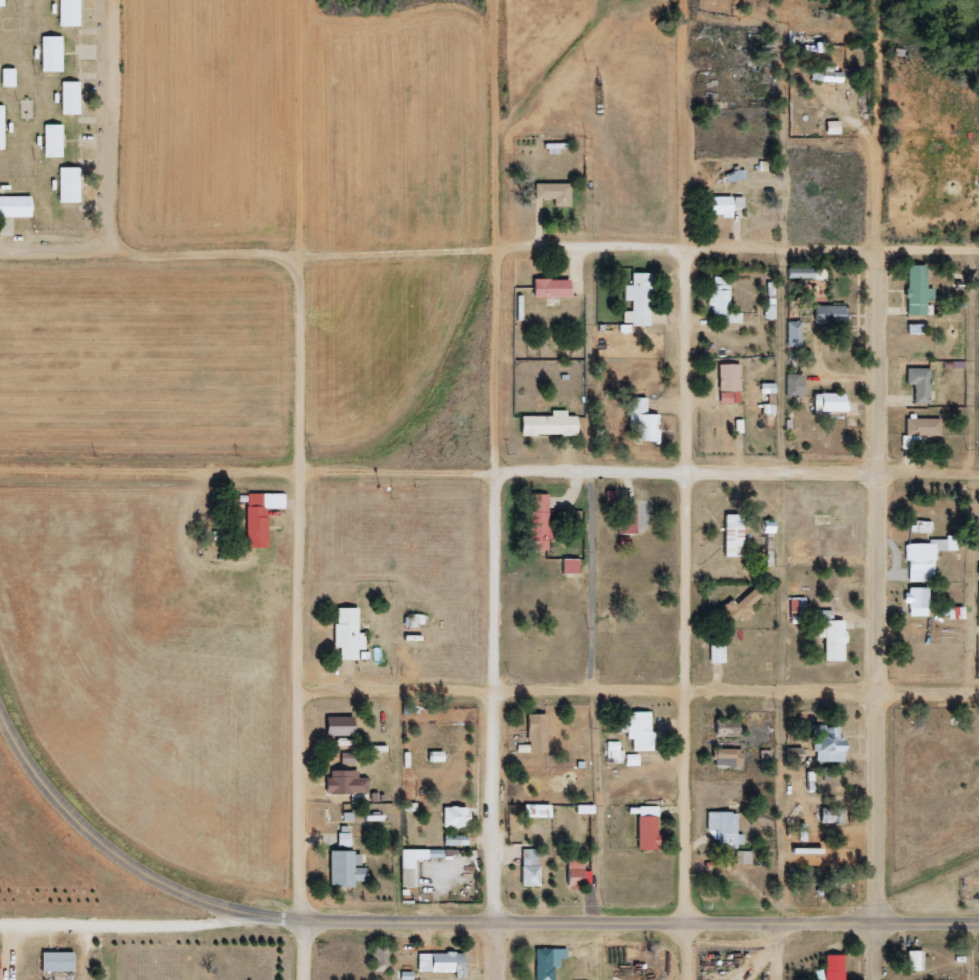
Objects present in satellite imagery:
building: (1, 3)
building: (68, 13)
building: (51, 54)
building: (826, 76)
building: (7, 78)
building: (69, 98)
road: (111, 126)
building: (1, 128)
building: (832, 128)
building: (52, 141)
building: (68, 185)
building: (554, 193)
building: (722, 205)
building: (14, 207)
road: (497, 236)
road: (489, 251)
building: (550, 288)
building: (917, 290)
building: (637, 300)
building: (720, 301)
building: (829, 314)
building: (794, 334)
building: (729, 384)
building: (919, 384)
building: (795, 386)
building: (829, 402)
building: (551, 421)
building: (641, 422)
building: (923, 427)
road: (489, 473)
road: (689, 489)
road: (877, 489)
road: (302, 490)
building: (259, 516)
building: (626, 519)
building: (539, 523)
building: (923, 527)
building: (733, 535)
building: (800, 545)
building: (920, 562)
building: (569, 566)
building: (797, 606)
building: (738, 608)
building: (347, 633)
building: (831, 636)
building: (717, 649)
road: (643, 691)
road: (495, 698)
building: (339, 727)
building: (725, 727)
building: (639, 731)
building: (536, 735)
building: (828, 745)
building: (615, 750)
building: (726, 758)
building: (346, 759)
building: (632, 760)
building: (536, 811)
building: (454, 817)
building: (646, 828)
building: (725, 829)
building: (343, 840)
building: (742, 857)
road: (121, 860)
building: (414, 864)
building: (345, 869)
building: (576, 874)
railway: (856, 919)
road: (127, 924)
road: (643, 924)
road: (496, 952)
building: (380, 959)
building: (55, 961)
building: (914, 961)
building: (547, 963)
building: (447, 964)
building: (834, 967)

